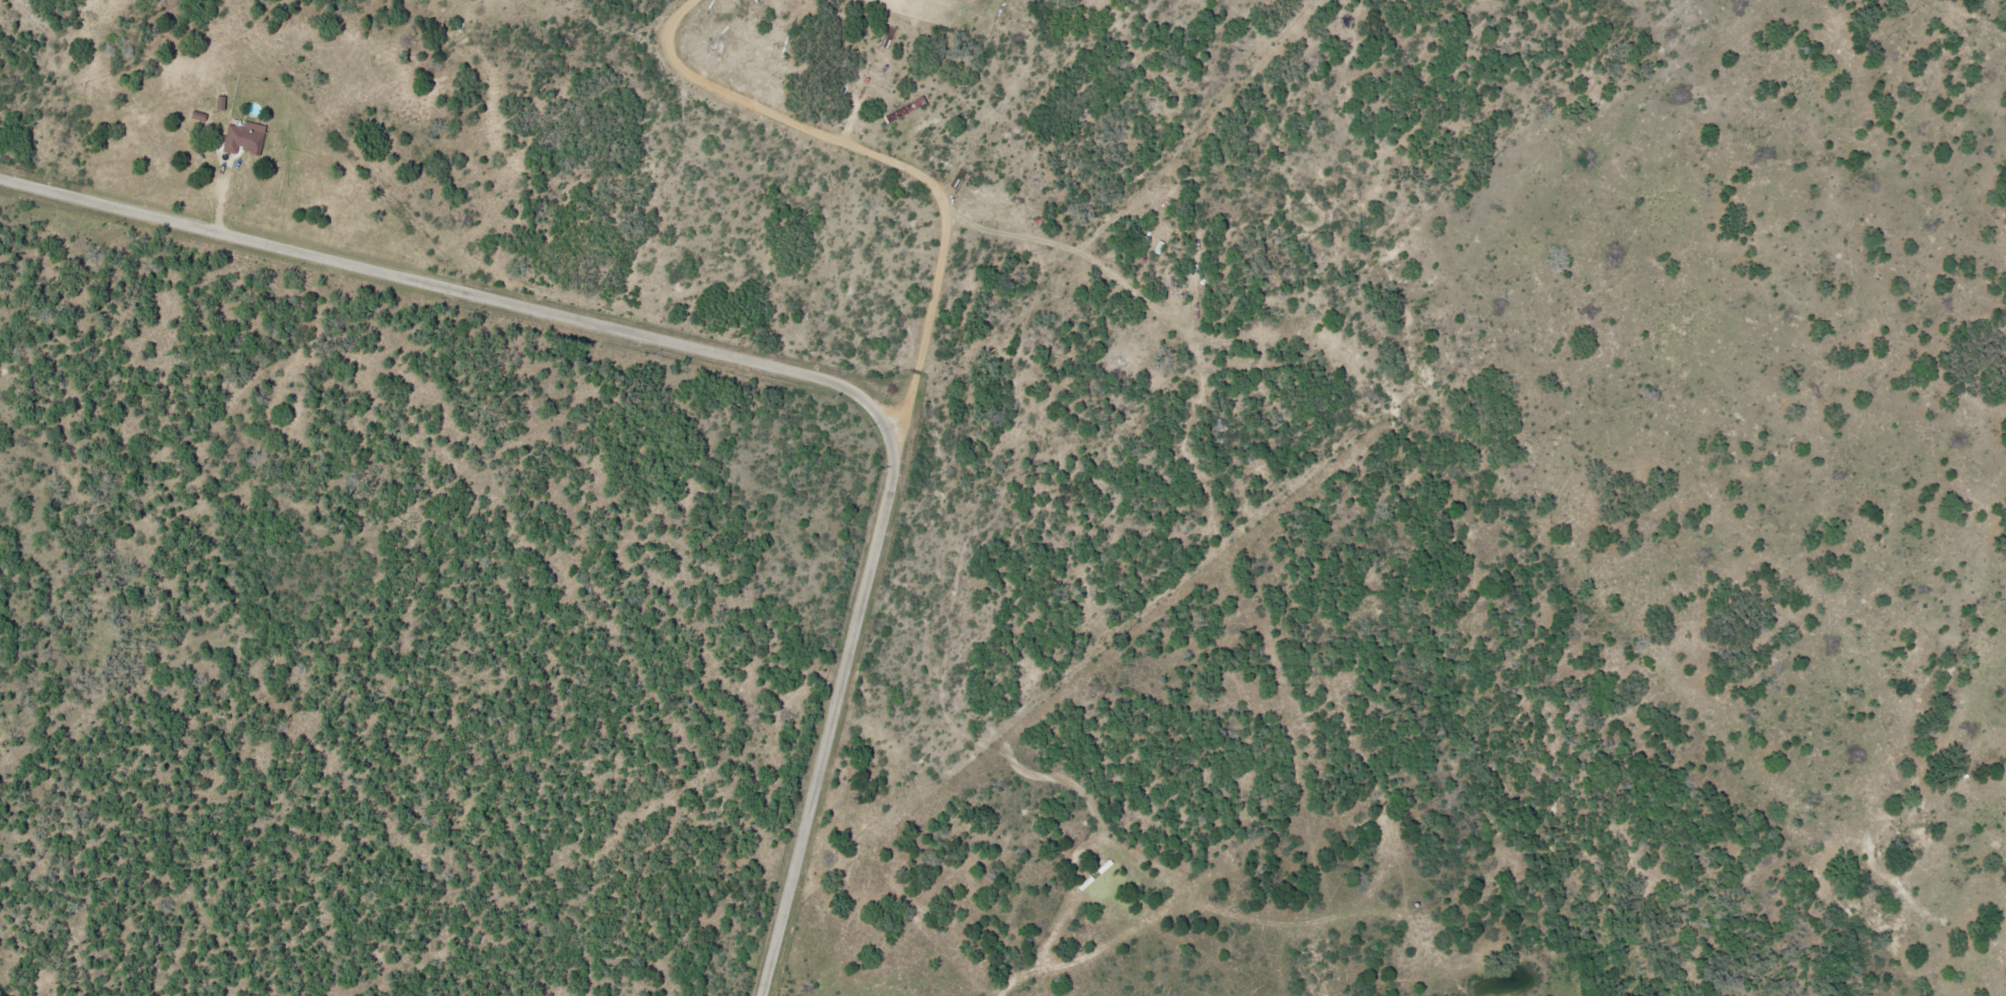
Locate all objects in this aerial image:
building: (902, 109)
road: (993, 120)
building: (246, 138)
road: (891, 164)
road: (735, 359)
building: (811, 994)

